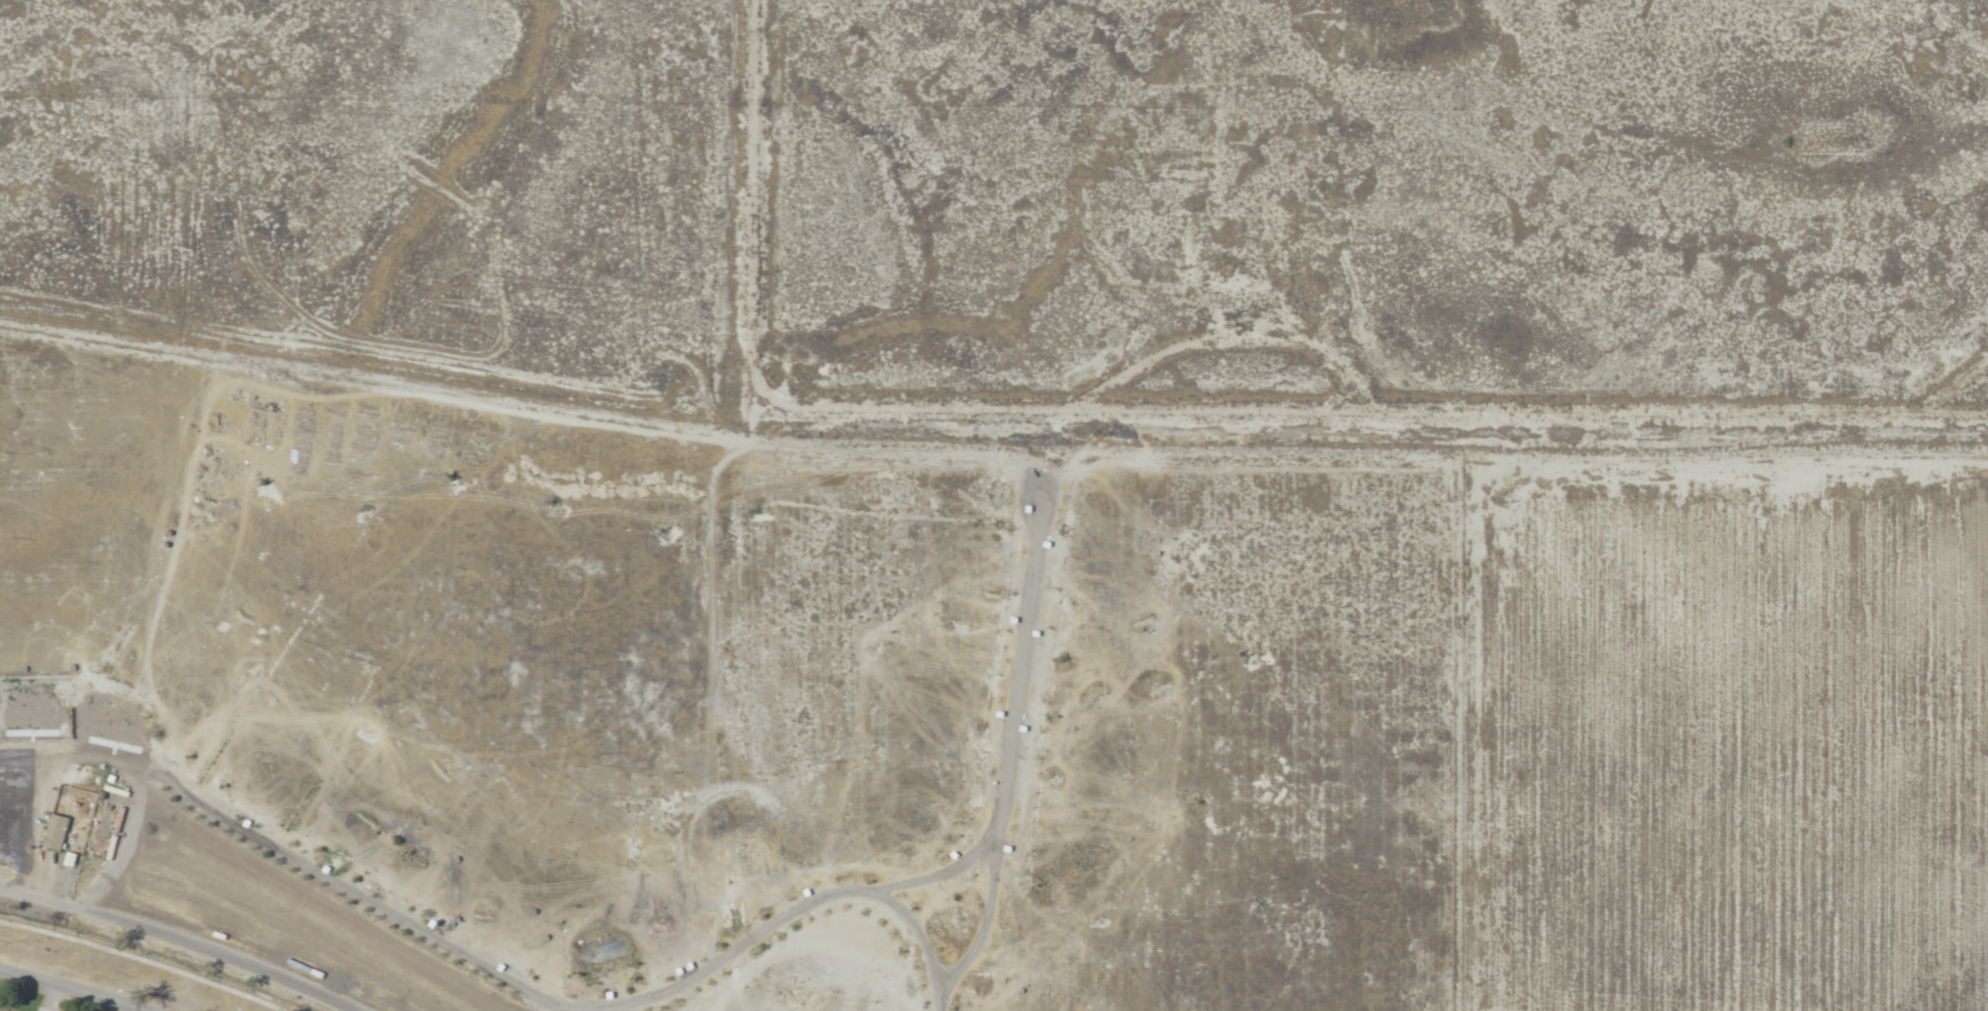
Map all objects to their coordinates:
road: (1173, 415)
building: (58, 832)
road: (185, 937)
road: (85, 984)
road: (51, 994)

